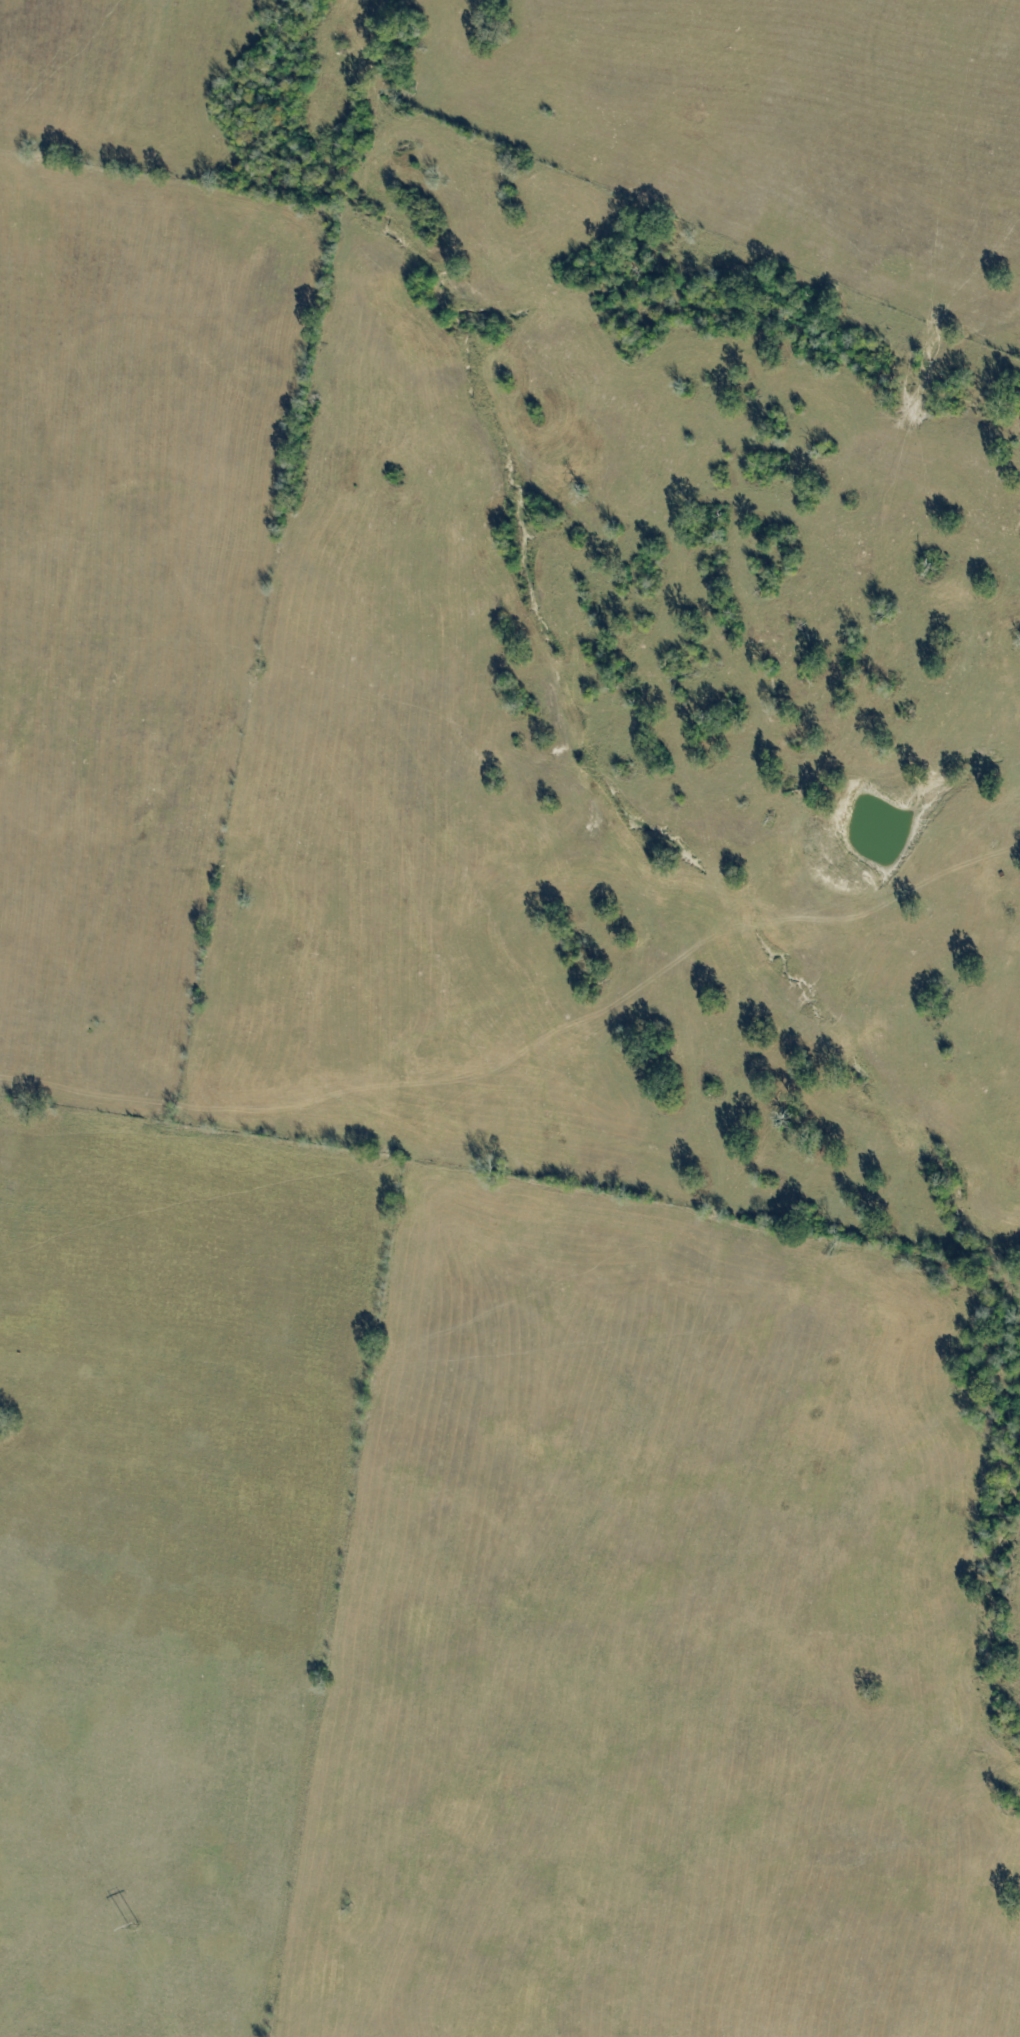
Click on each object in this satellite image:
power tower: (136, 1920)

